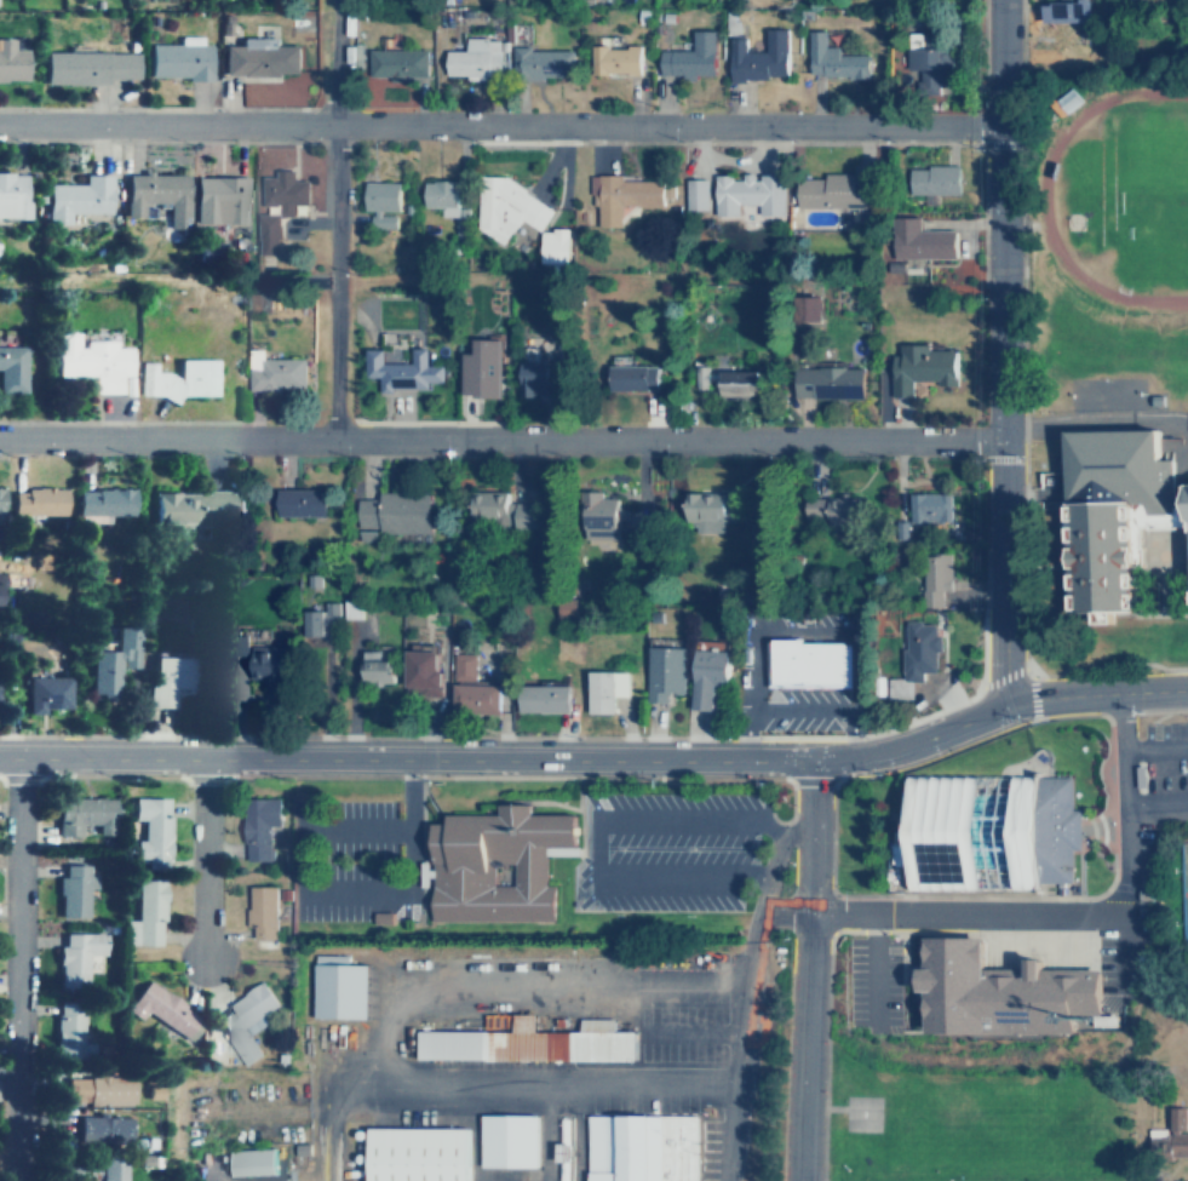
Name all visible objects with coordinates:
building: (1067, 10)
building: (258, 57)
building: (687, 57)
building: (756, 57)
building: (472, 58)
building: (830, 58)
building: (610, 59)
building: (177, 61)
building: (10, 63)
building: (395, 63)
building: (540, 63)
building: (87, 67)
building: (926, 67)
road: (499, 126)
building: (934, 179)
building: (834, 189)
building: (281, 191)
building: (693, 193)
building: (746, 193)
park: (1166, 193)
building: (436, 194)
building: (156, 195)
building: (12, 196)
building: (378, 196)
track: (1124, 196)
building: (76, 199)
building: (620, 199)
building: (218, 200)
building: (507, 206)
road: (339, 220)
building: (266, 225)
building: (918, 240)
building: (555, 245)
building: (808, 308)
road: (1002, 350)
building: (91, 361)
building: (919, 367)
building: (11, 368)
building: (483, 368)
building: (403, 369)
building: (272, 373)
building: (176, 379)
building: (529, 379)
building: (629, 379)
building: (728, 383)
building: (823, 383)
road: (1095, 414)
road: (501, 442)
building: (1, 499)
building: (35, 501)
building: (101, 501)
building: (295, 505)
building: (193, 506)
building: (924, 508)
building: (499, 510)
building: (839, 510)
building: (389, 512)
building: (705, 512)
building: (641, 515)
building: (1113, 515)
building: (592, 516)
building: (0, 577)
building: (932, 580)
building: (348, 609)
building: (316, 621)
road: (745, 643)
building: (236, 644)
building: (912, 657)
building: (108, 661)
building: (264, 661)
building: (802, 661)
building: (371, 667)
road: (972, 670)
building: (421, 672)
building: (660, 672)
building: (702, 676)
building: (165, 678)
building: (467, 688)
building: (601, 690)
building: (41, 693)
building: (540, 696)
road: (793, 710)
road: (1155, 747)
road: (599, 758)
parking lot: (1163, 776)
road: (1124, 789)
road: (1155, 802)
building: (80, 815)
building: (256, 825)
building: (987, 826)
road: (784, 827)
building: (147, 829)
road: (596, 841)
parking lot: (665, 849)
road: (207, 855)
parking lot: (339, 858)
building: (490, 864)
road: (757, 871)
road: (768, 883)
building: (71, 889)
road: (331, 889)
park: (1182, 889)
building: (147, 910)
road: (784, 912)
road: (975, 915)
building: (259, 916)
building: (130, 931)
parking lot: (1140, 942)
building: (74, 957)
road: (876, 961)
road: (18, 968)
road: (805, 970)
parking lot: (877, 978)
building: (995, 986)
building: (339, 987)
road: (528, 988)
building: (160, 1008)
building: (243, 1022)
building: (68, 1030)
road: (690, 1037)
building: (528, 1042)
road: (744, 1060)
road: (487, 1082)
building: (99, 1089)
road: (822, 1107)
road: (825, 1110)
helipad: (861, 1113)
park: (975, 1114)
building: (101, 1130)
building: (1166, 1136)
building: (507, 1142)
building: (639, 1147)
building: (559, 1148)
building: (414, 1154)
building: (253, 1162)
building: (103, 1170)

